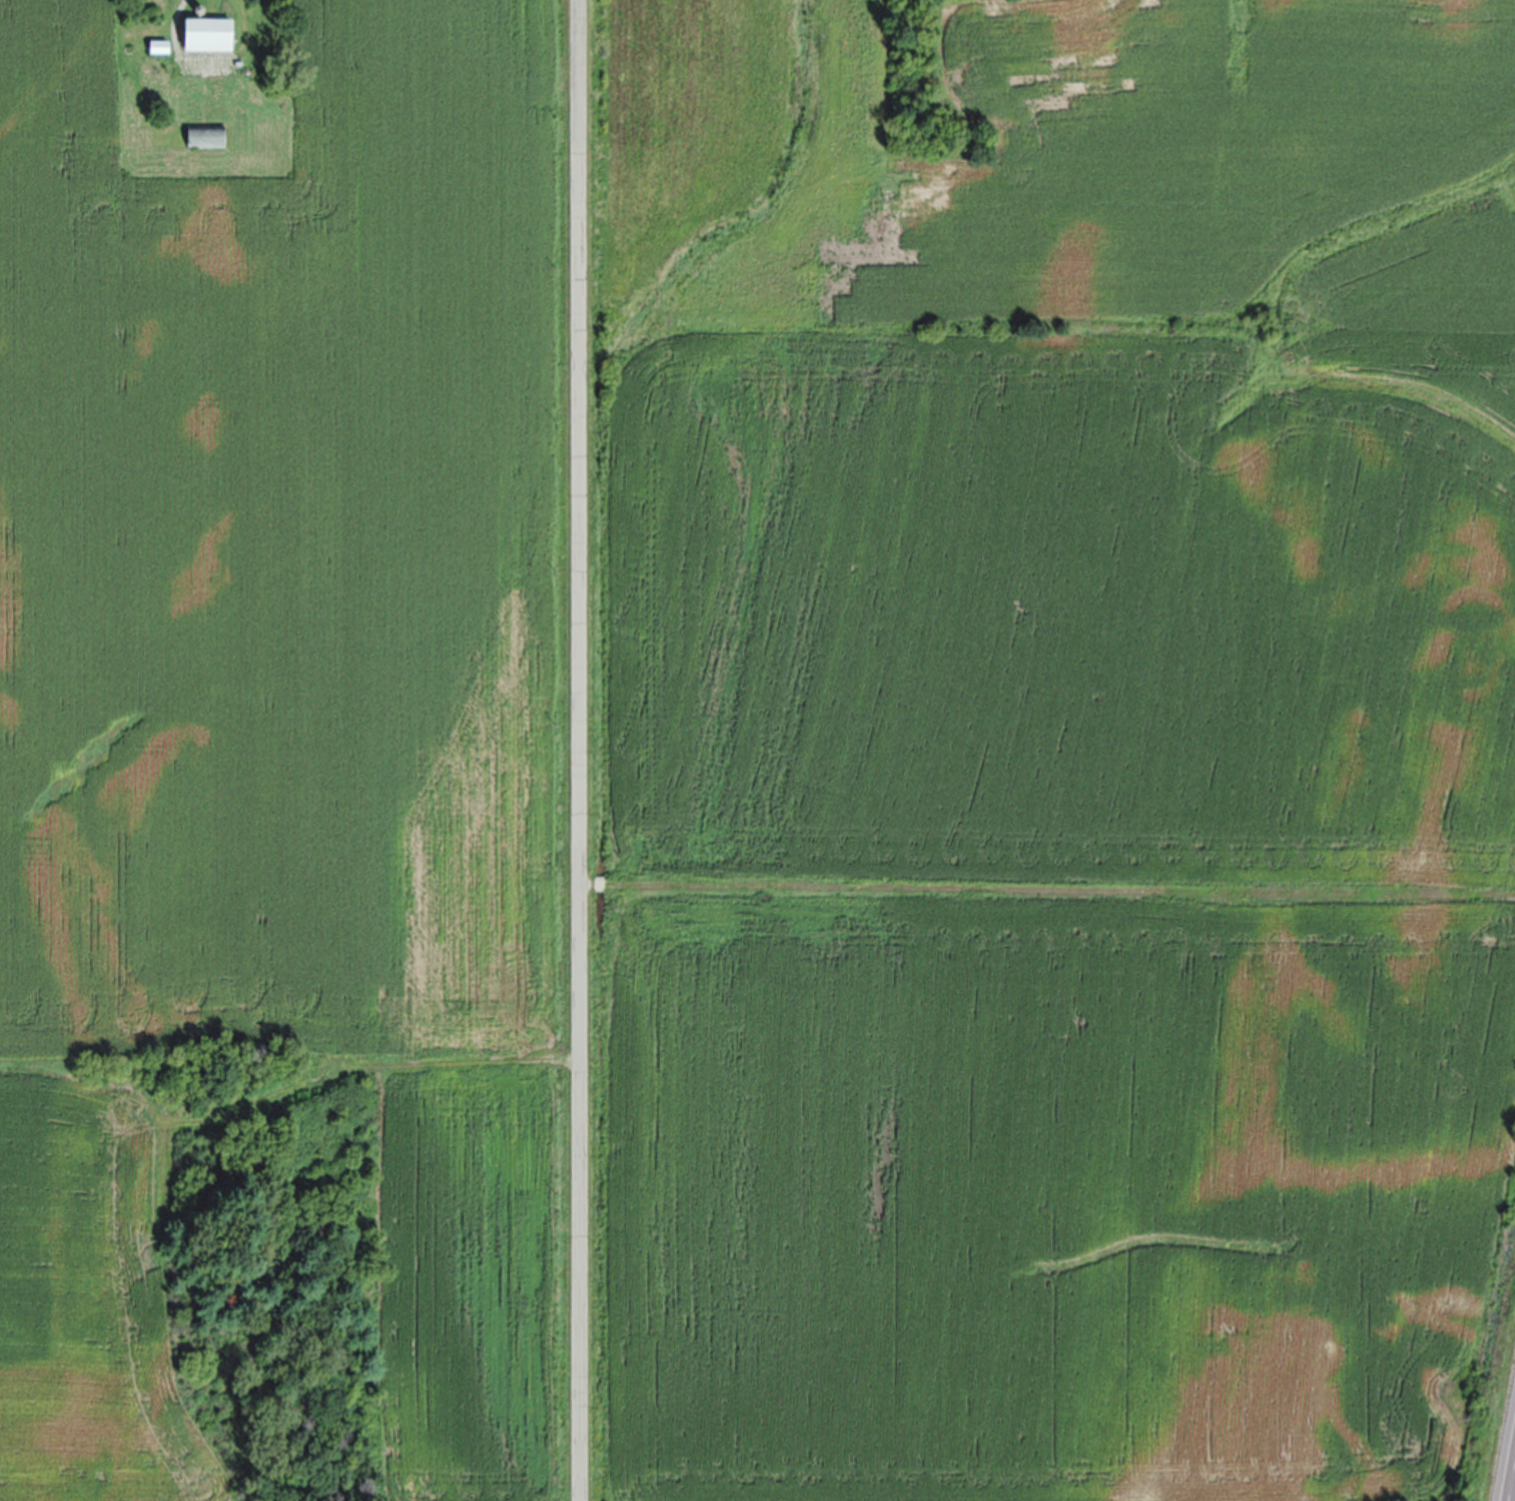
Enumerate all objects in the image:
road: (178, 18)
building: (205, 41)
building: (204, 141)
road: (580, 750)
road: (1514, 1496)

